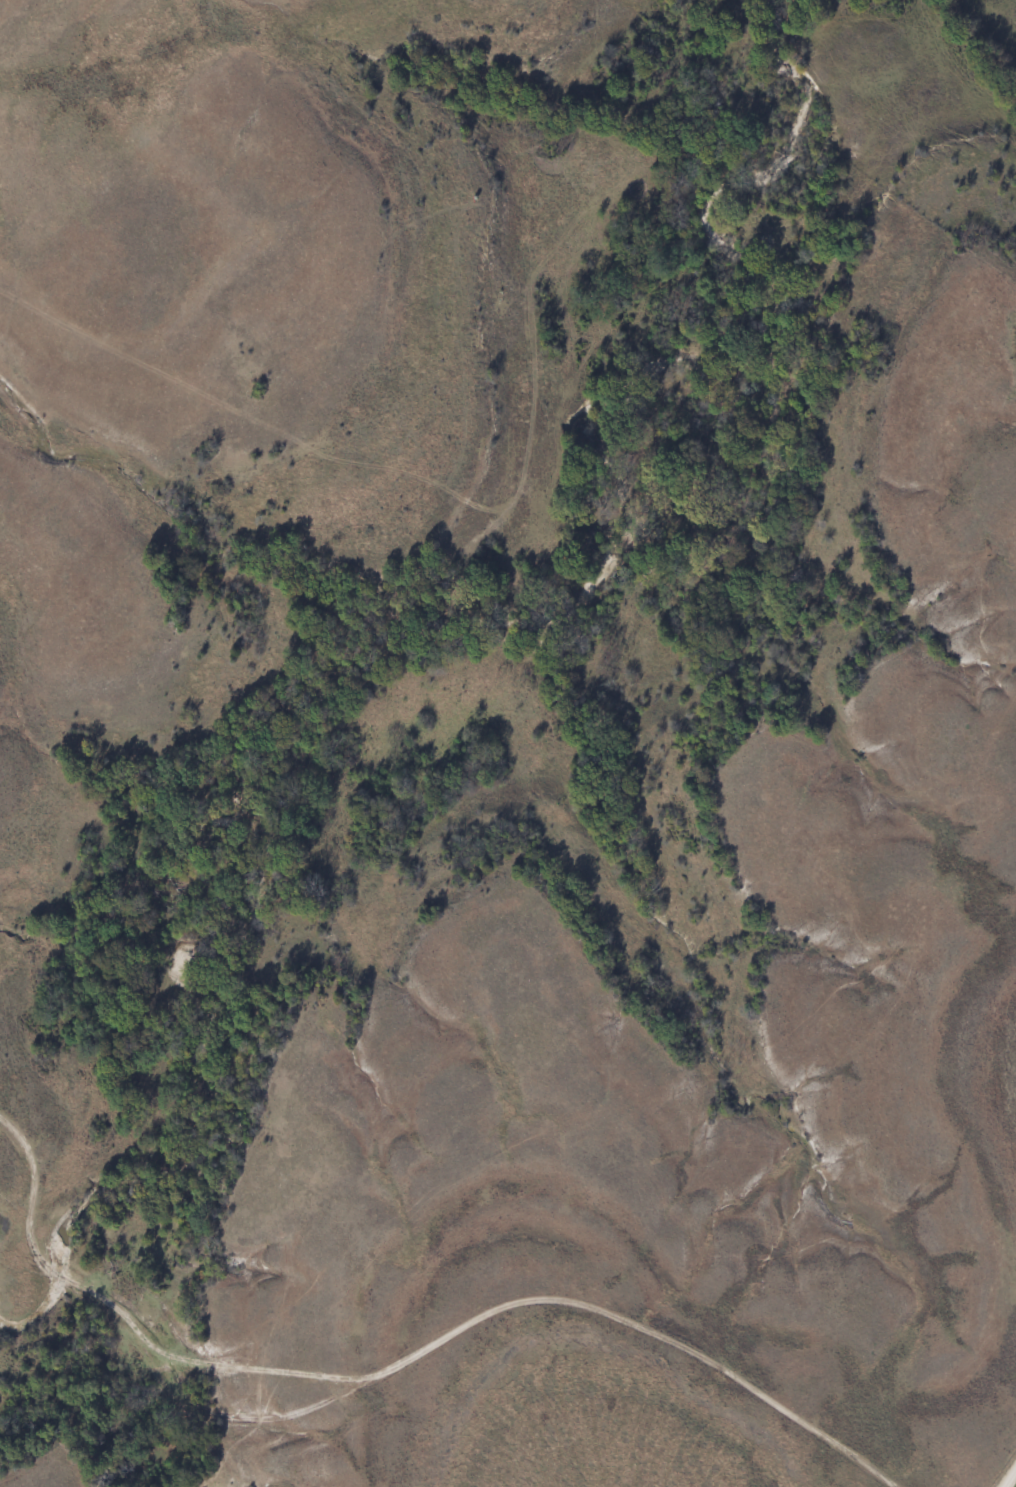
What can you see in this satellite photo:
road: (1014, 1484)

